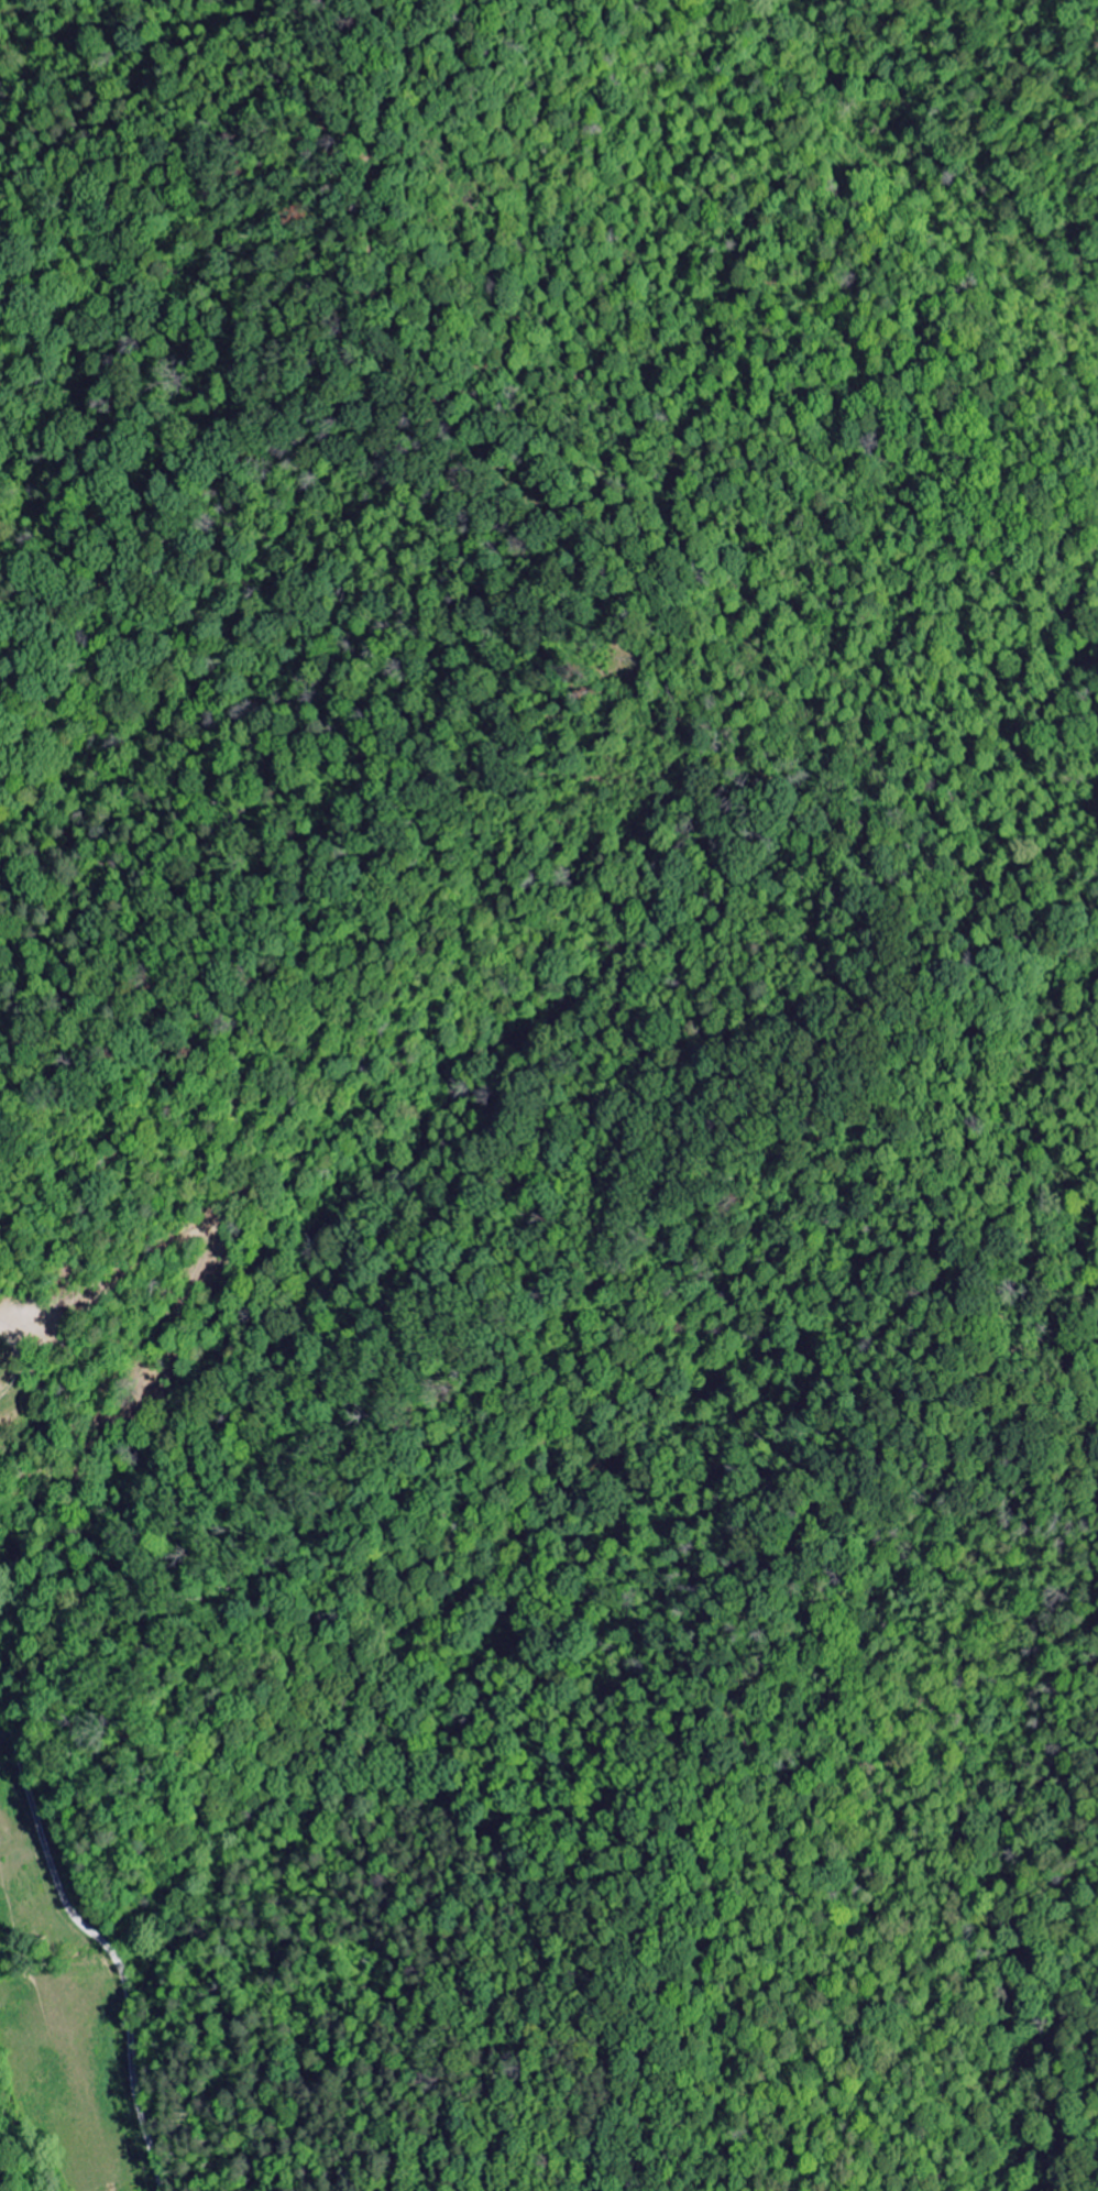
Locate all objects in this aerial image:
road: (83, 1924)

